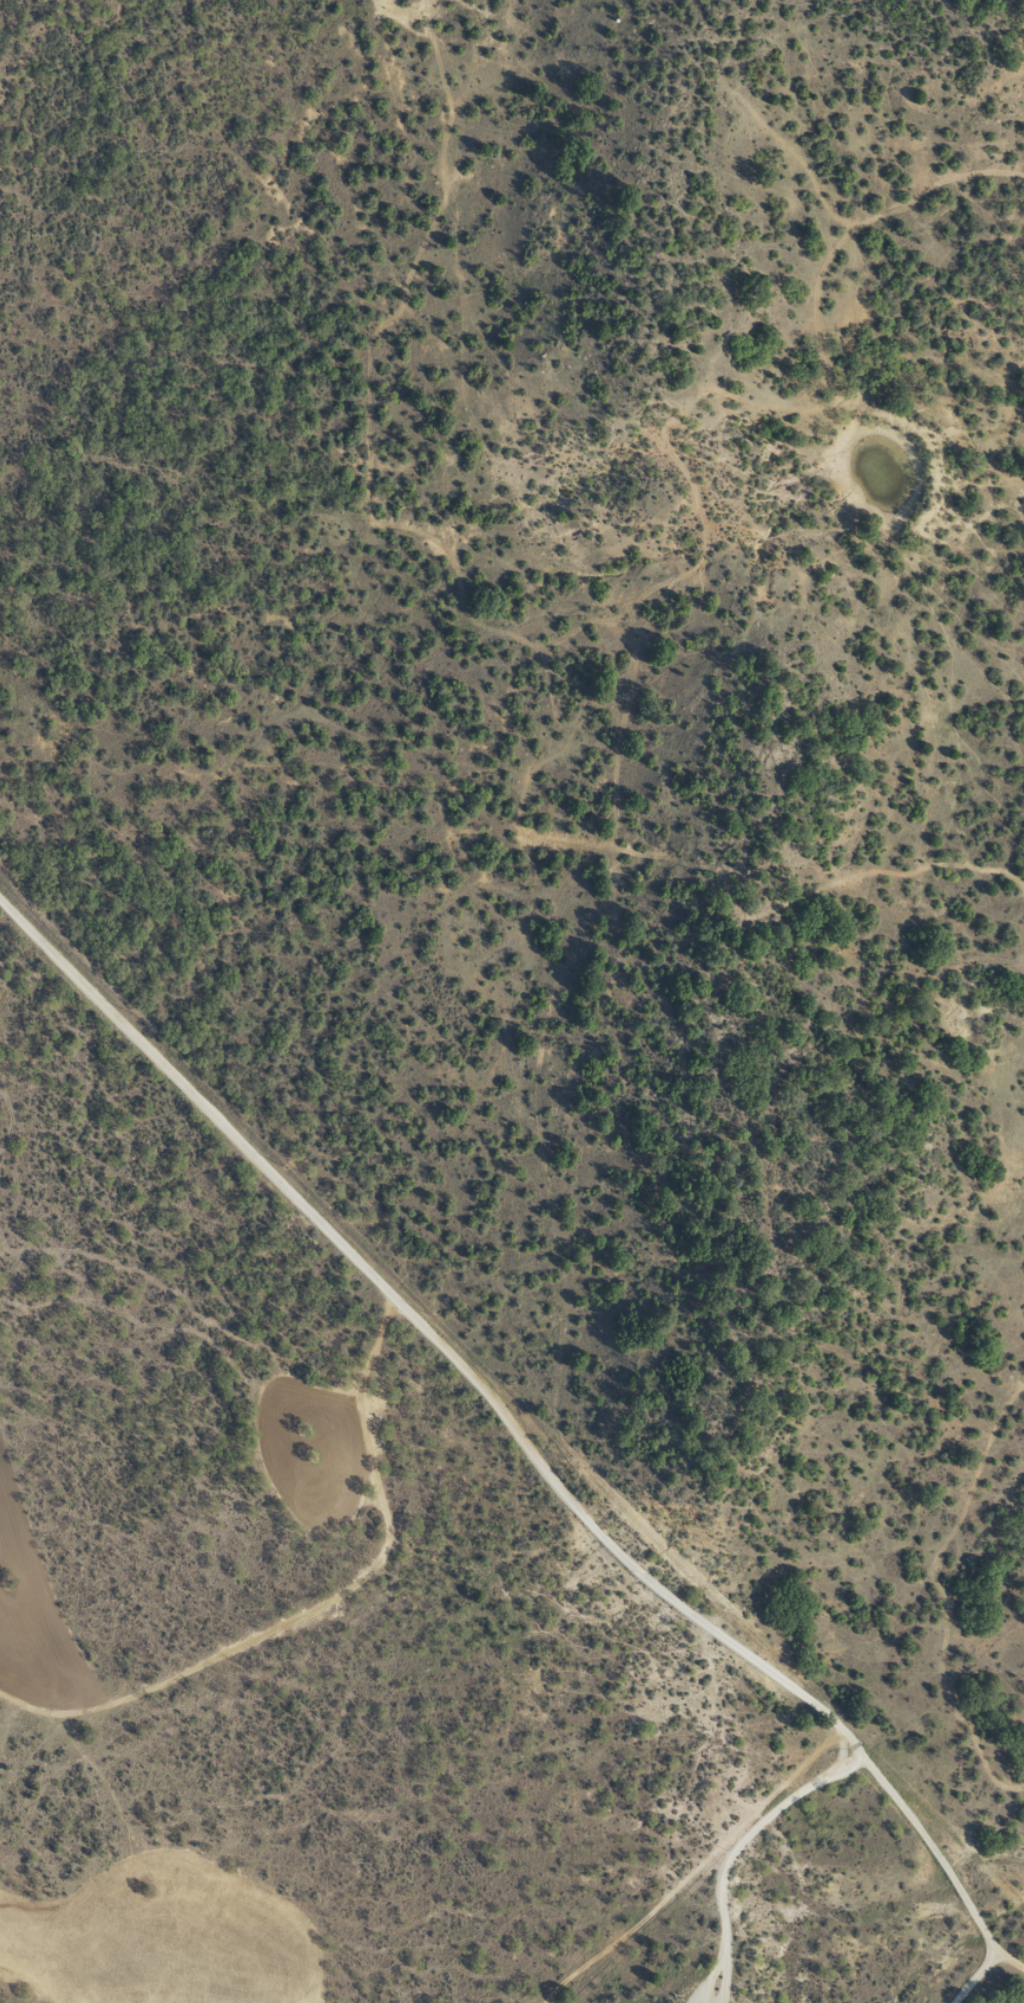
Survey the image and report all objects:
road: (512, 1443)
road: (914, 1943)

